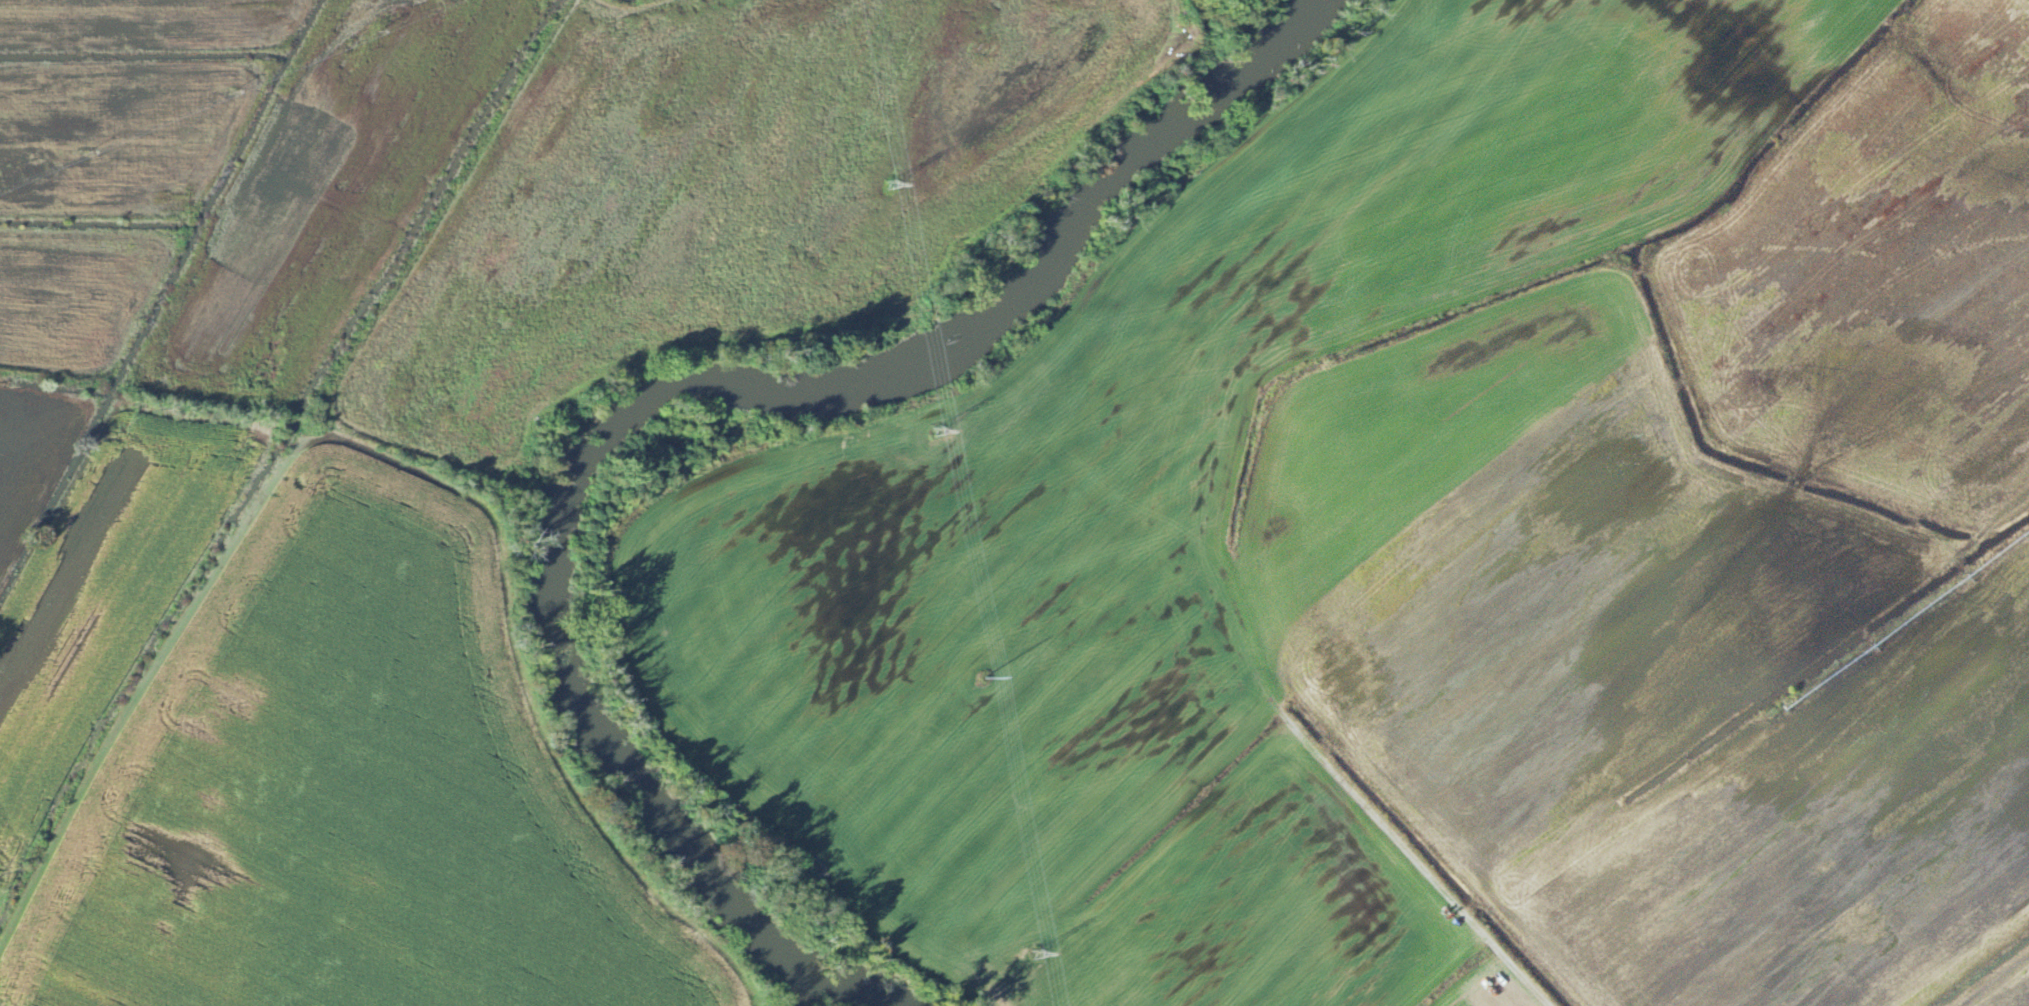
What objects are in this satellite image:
power tower: (379, 26)
power tower: (887, 183)
river: (712, 388)
power tower: (934, 431)
power tower: (979, 679)
power tower: (1035, 955)
river: (839, 989)

